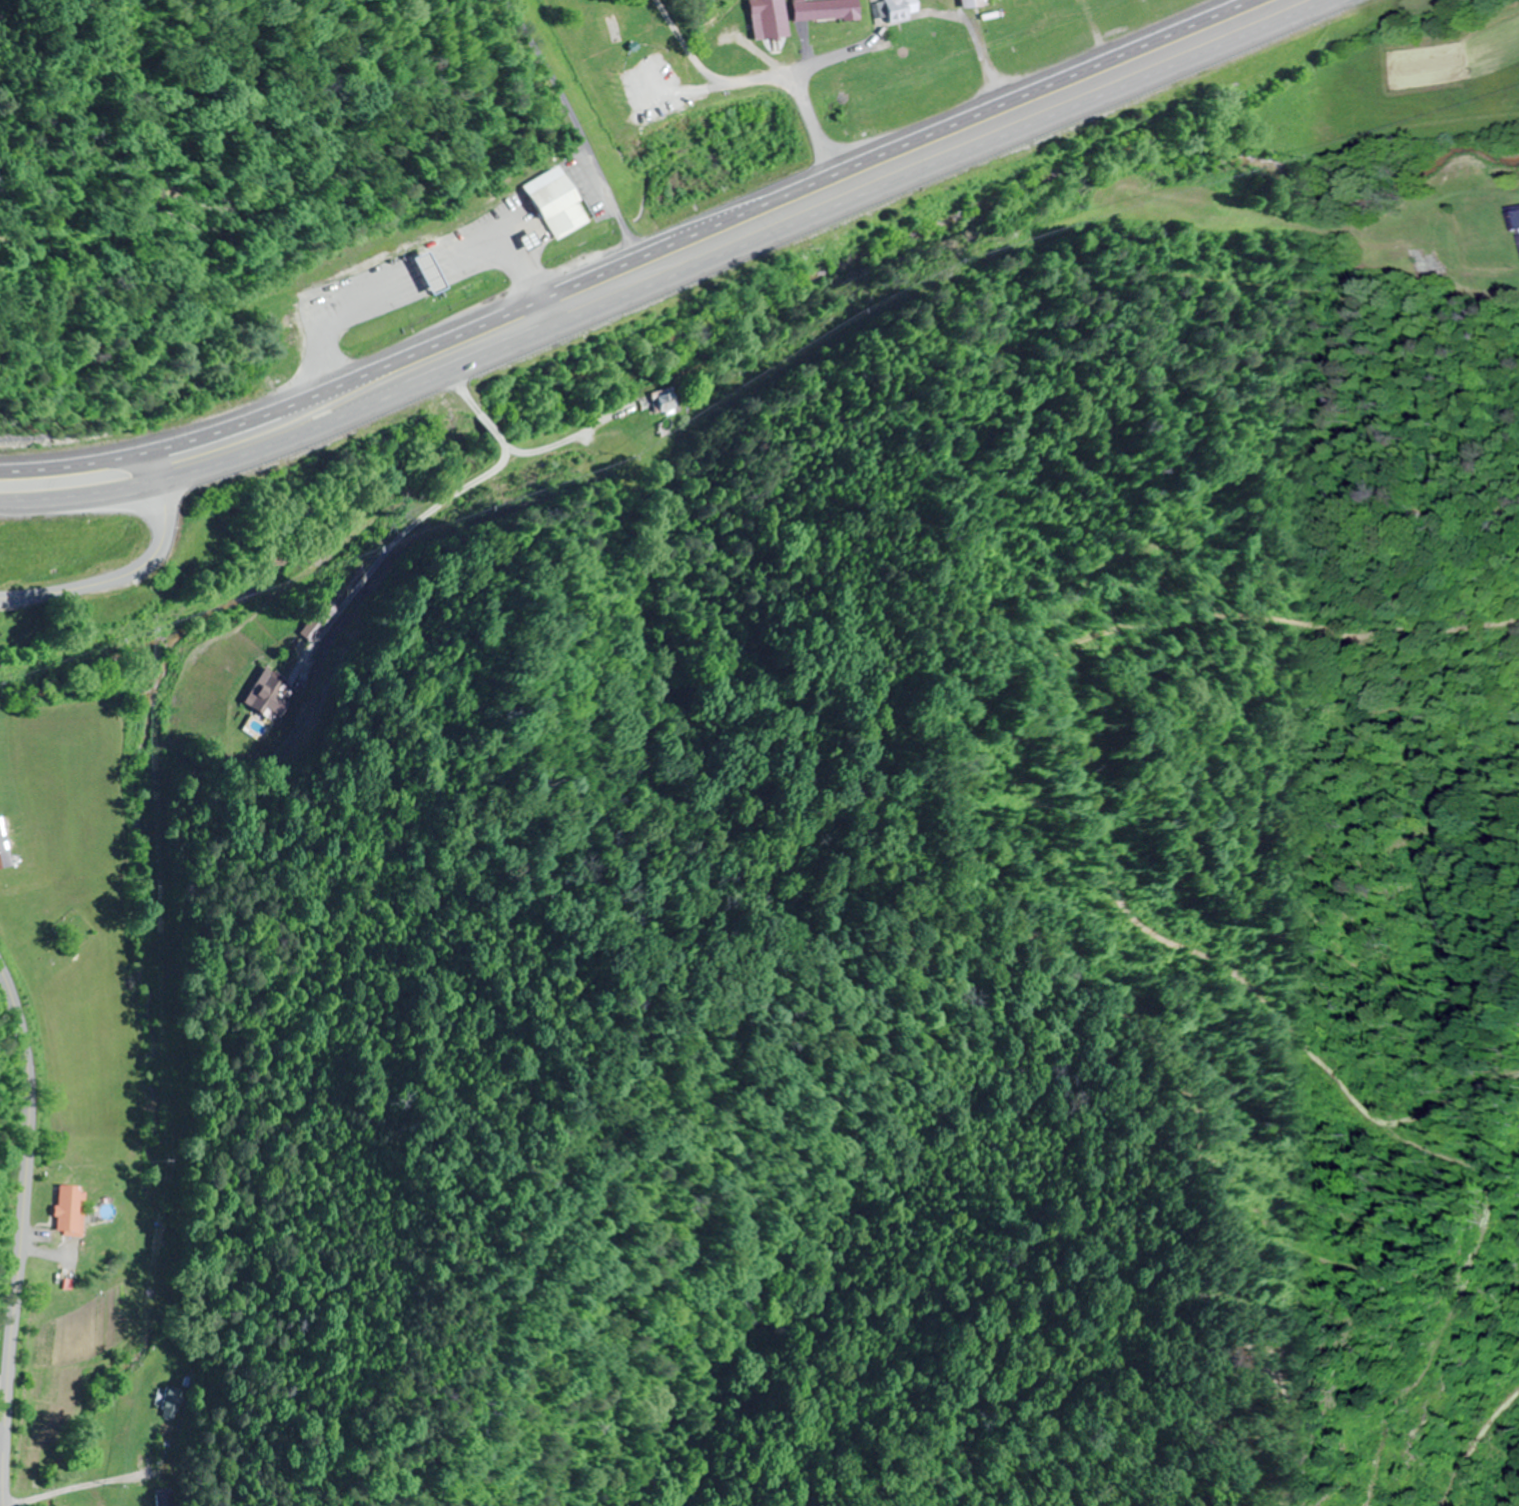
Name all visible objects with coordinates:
building: (970, 3)
building: (825, 10)
building: (895, 10)
building: (768, 19)
building: (554, 203)
building: (1516, 220)
building: (1518, 236)
road: (625, 259)
building: (1401, 260)
building: (427, 273)
road: (671, 282)
building: (664, 402)
road: (132, 569)
building: (272, 697)
building: (7, 838)
building: (75, 1209)
road: (25, 1234)
building: (173, 1402)
road: (2, 1442)
road: (89, 1482)
building: (167, 1500)

